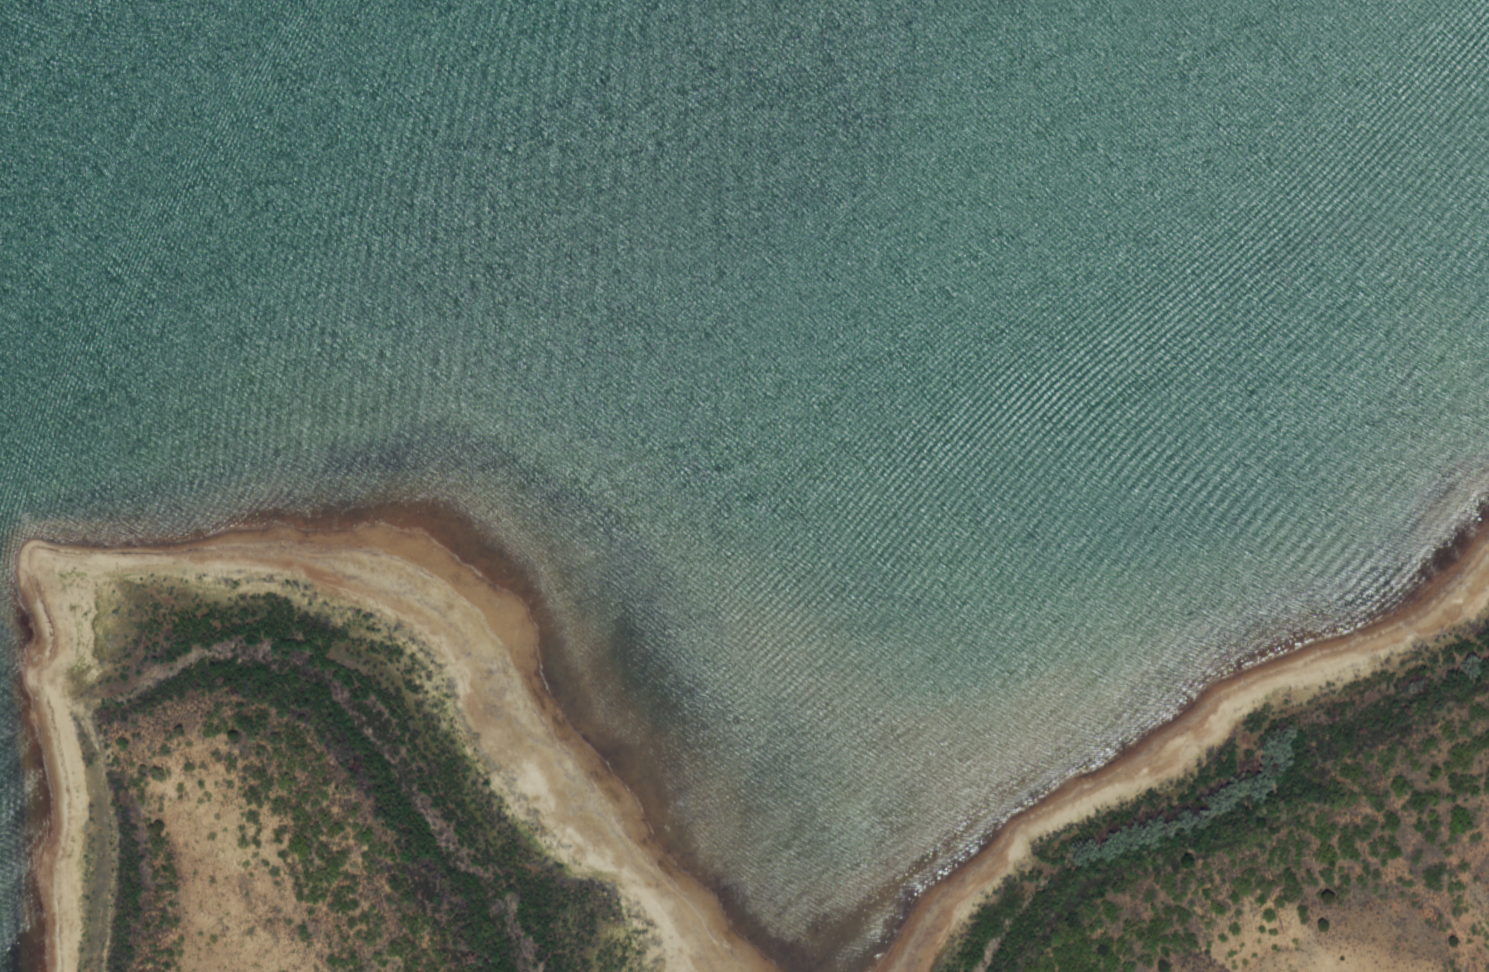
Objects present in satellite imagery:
river: (149, 120)

